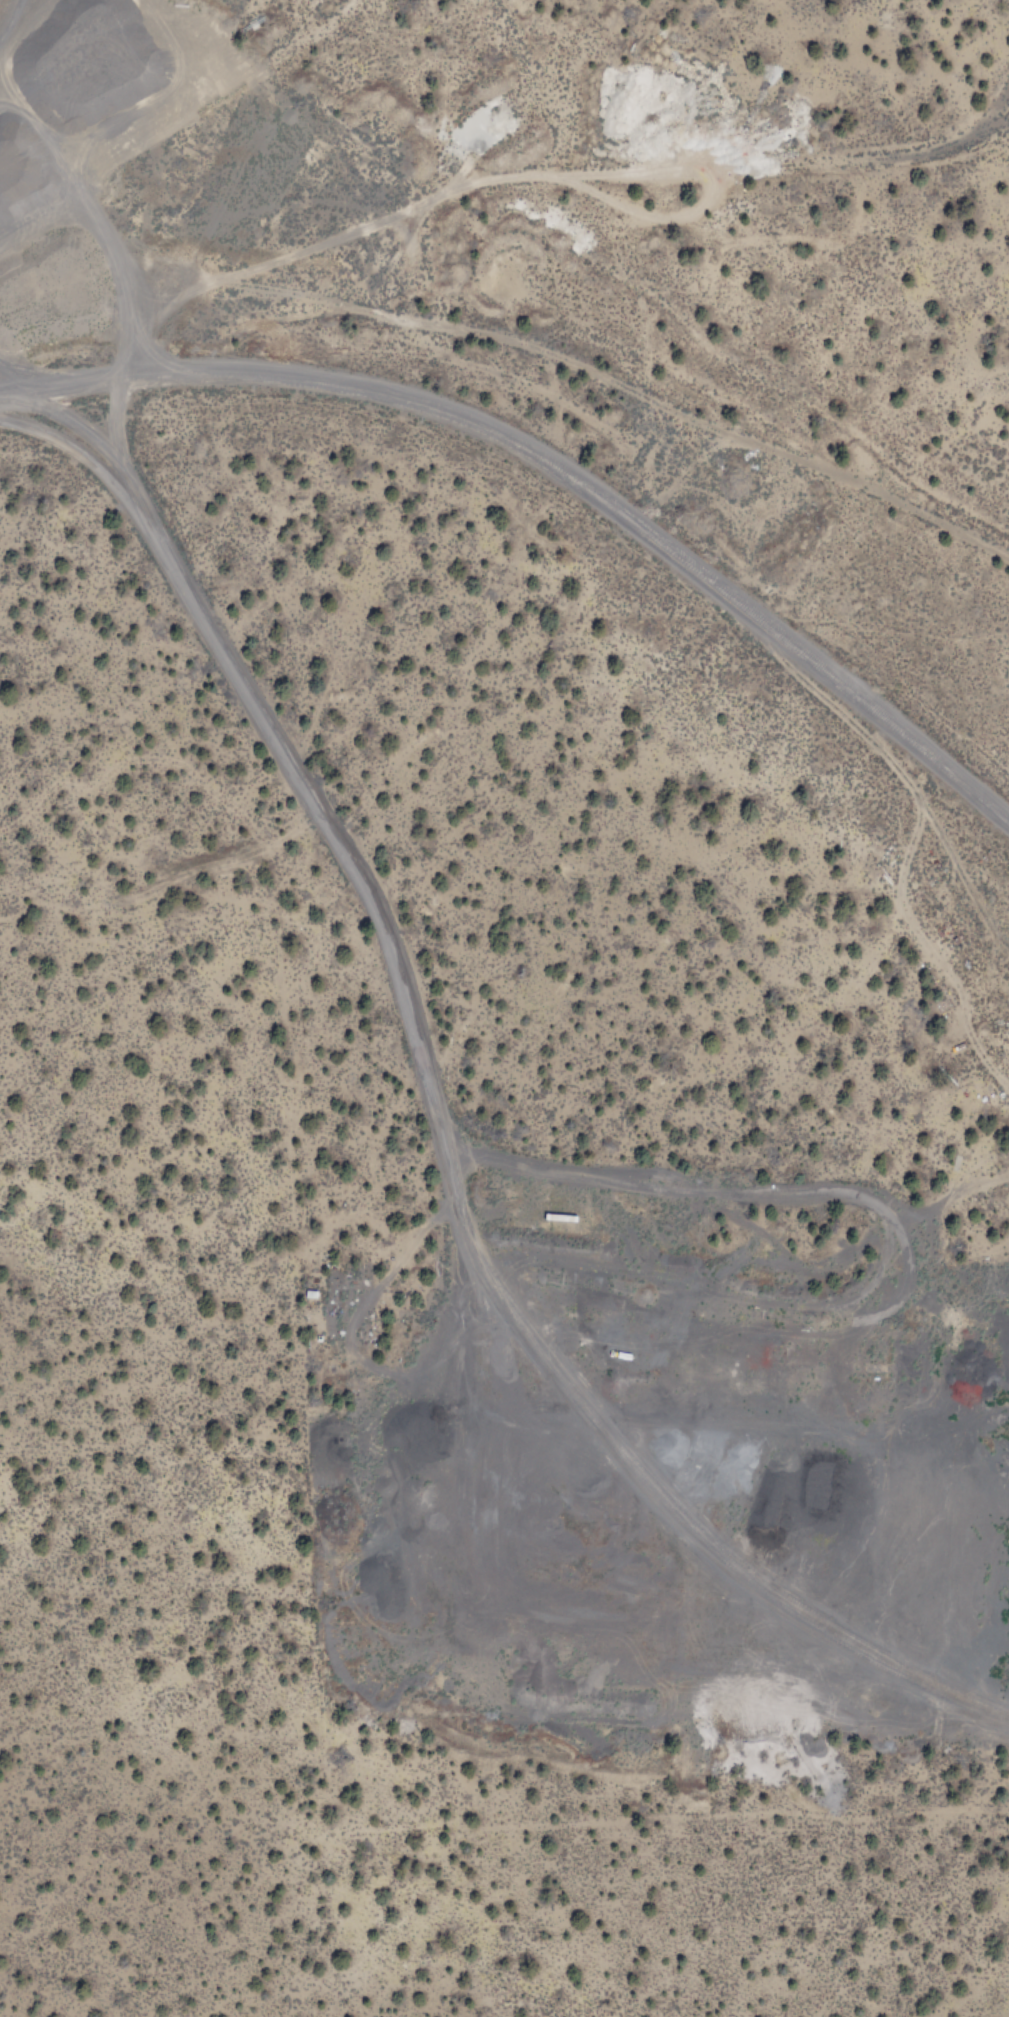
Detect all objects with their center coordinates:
quarry: (335, 166)
road: (559, 465)
road: (442, 1134)
road: (789, 1184)
road: (808, 1417)
quarry: (692, 1510)

